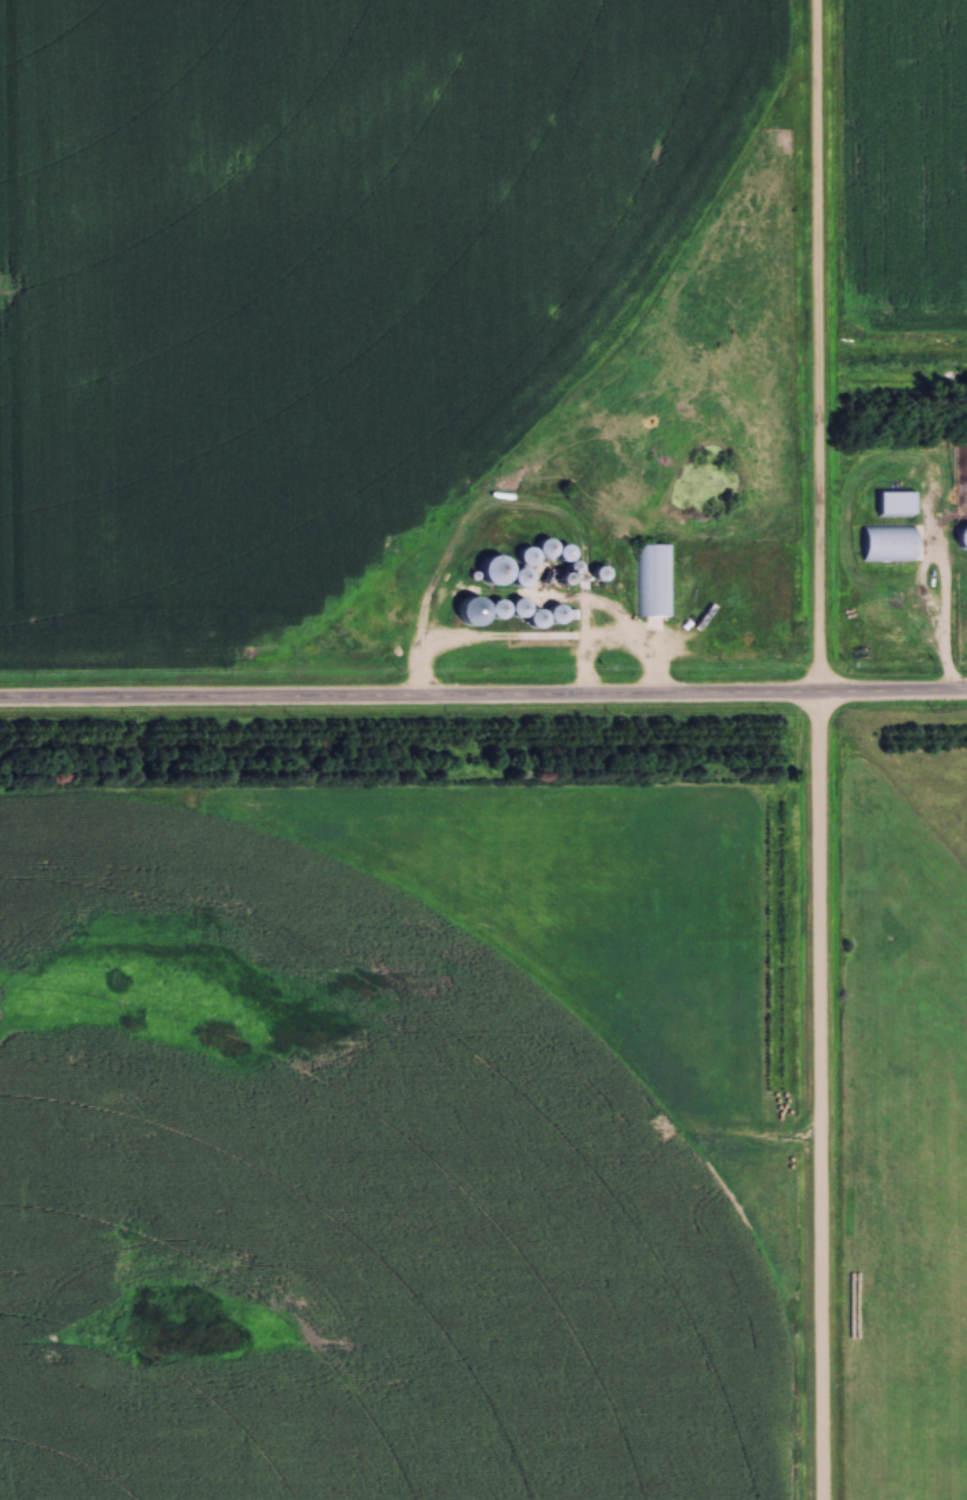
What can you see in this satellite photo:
building: (892, 505)
building: (961, 538)
building: (886, 544)
building: (487, 571)
building: (657, 581)
building: (507, 609)
building: (465, 612)
road: (945, 613)
road: (483, 695)
road: (821, 750)
airport: (902, 1143)

